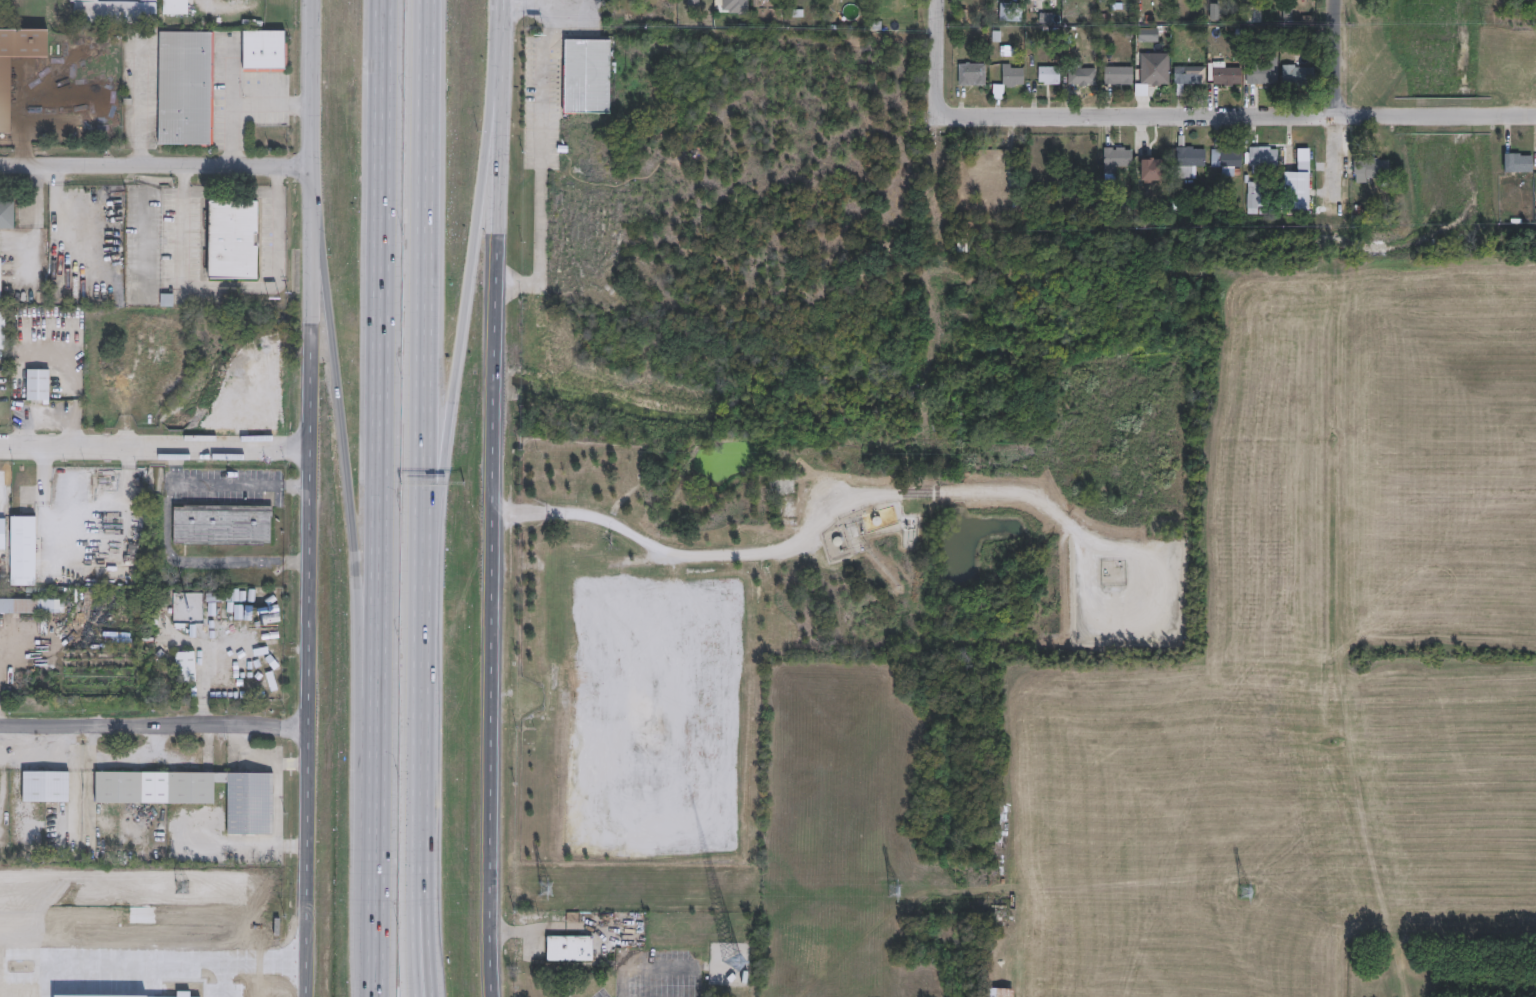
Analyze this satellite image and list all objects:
building: (0, 1)
road: (550, 3)
building: (693, 3)
road: (526, 6)
building: (175, 7)
building: (112, 11)
building: (1013, 11)
building: (1216, 11)
building: (1255, 15)
building: (1044, 16)
road: (502, 28)
building: (262, 51)
road: (937, 60)
road: (1336, 60)
building: (1264, 70)
building: (974, 74)
building: (1051, 74)
building: (1229, 74)
building: (1299, 74)
building: (590, 75)
building: (1014, 75)
building: (1084, 76)
building: (1157, 76)
building: (1191, 76)
building: (1118, 77)
road: (231, 82)
road: (314, 83)
building: (183, 88)
building: (4, 93)
road: (138, 103)
road: (241, 104)
road: (1237, 120)
building: (1191, 154)
building: (1229, 158)
building: (1265, 158)
building: (1119, 159)
building: (1514, 162)
road: (544, 163)
road: (157, 166)
building: (1373, 170)
building: (1151, 174)
building: (1300, 191)
building: (1254, 193)
road: (314, 201)
building: (1259, 202)
building: (6, 215)
building: (229, 239)
building: (0, 278)
road: (231, 285)
road: (428, 306)
building: (1, 329)
road: (466, 335)
building: (35, 384)
road: (157, 447)
road: (175, 465)
road: (381, 498)
road: (354, 517)
road: (167, 521)
building: (221, 523)
road: (495, 526)
building: (3, 534)
road: (804, 543)
building: (24, 552)
building: (32, 607)
building: (769, 608)
road: (309, 616)
building: (187, 667)
road: (421, 673)
road: (156, 726)
road: (276, 785)
building: (47, 788)
building: (199, 795)
road: (241, 843)
road: (412, 865)
road: (425, 865)
power tower: (182, 885)
power tower: (545, 888)
power tower: (894, 890)
power tower: (1247, 892)
building: (573, 948)
road: (228, 967)
road: (289, 988)
building: (1004, 992)
road: (262, 994)

